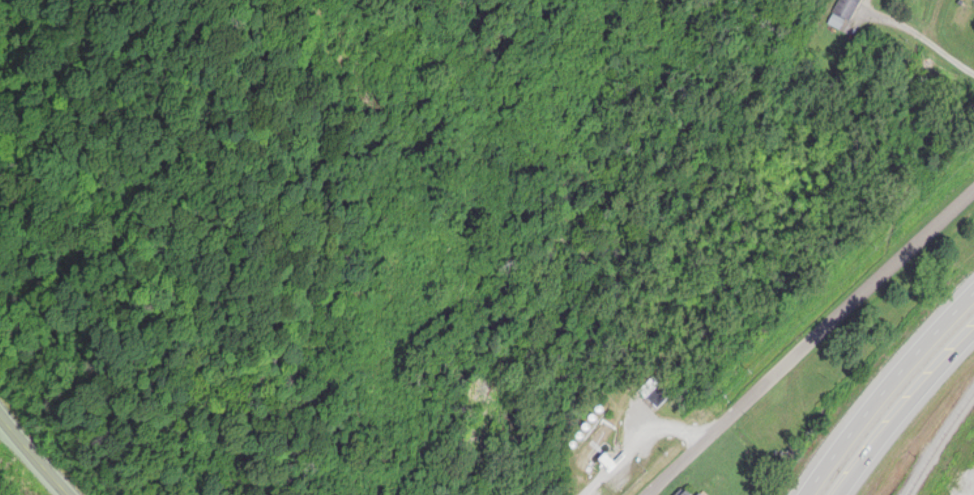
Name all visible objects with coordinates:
building: (972, 1)
building: (846, 11)
road: (934, 20)
road: (931, 42)
road: (812, 343)
road: (882, 385)
road: (898, 404)
railway: (938, 441)
road: (33, 456)
building: (683, 493)
building: (696, 494)

